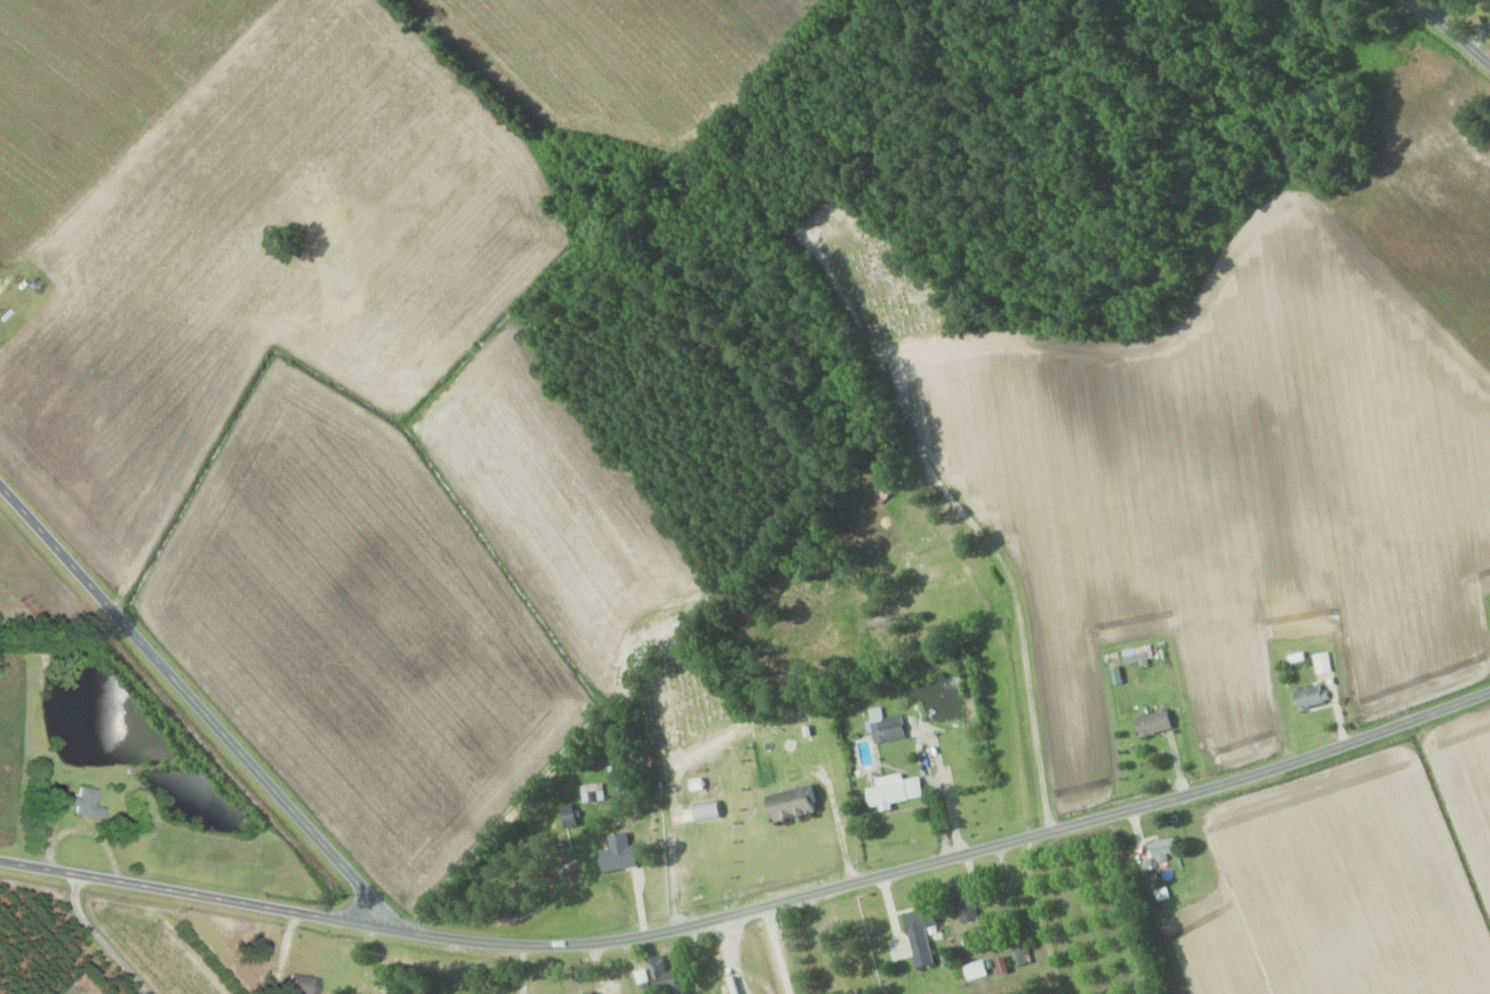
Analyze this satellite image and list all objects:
road: (1450, 35)
park: (877, 263)
building: (939, 573)
building: (1141, 654)
building: (1320, 663)
park: (683, 694)
building: (1306, 696)
road: (195, 702)
building: (1160, 722)
building: (891, 726)
building: (898, 789)
building: (595, 792)
building: (86, 802)
building: (798, 802)
building: (711, 809)
building: (574, 817)
building: (1168, 848)
building: (624, 851)
building: (972, 899)
road: (755, 908)
building: (926, 932)
road: (779, 949)
building: (1024, 954)
building: (978, 968)
building: (672, 975)
building: (306, 984)
building: (742, 985)

